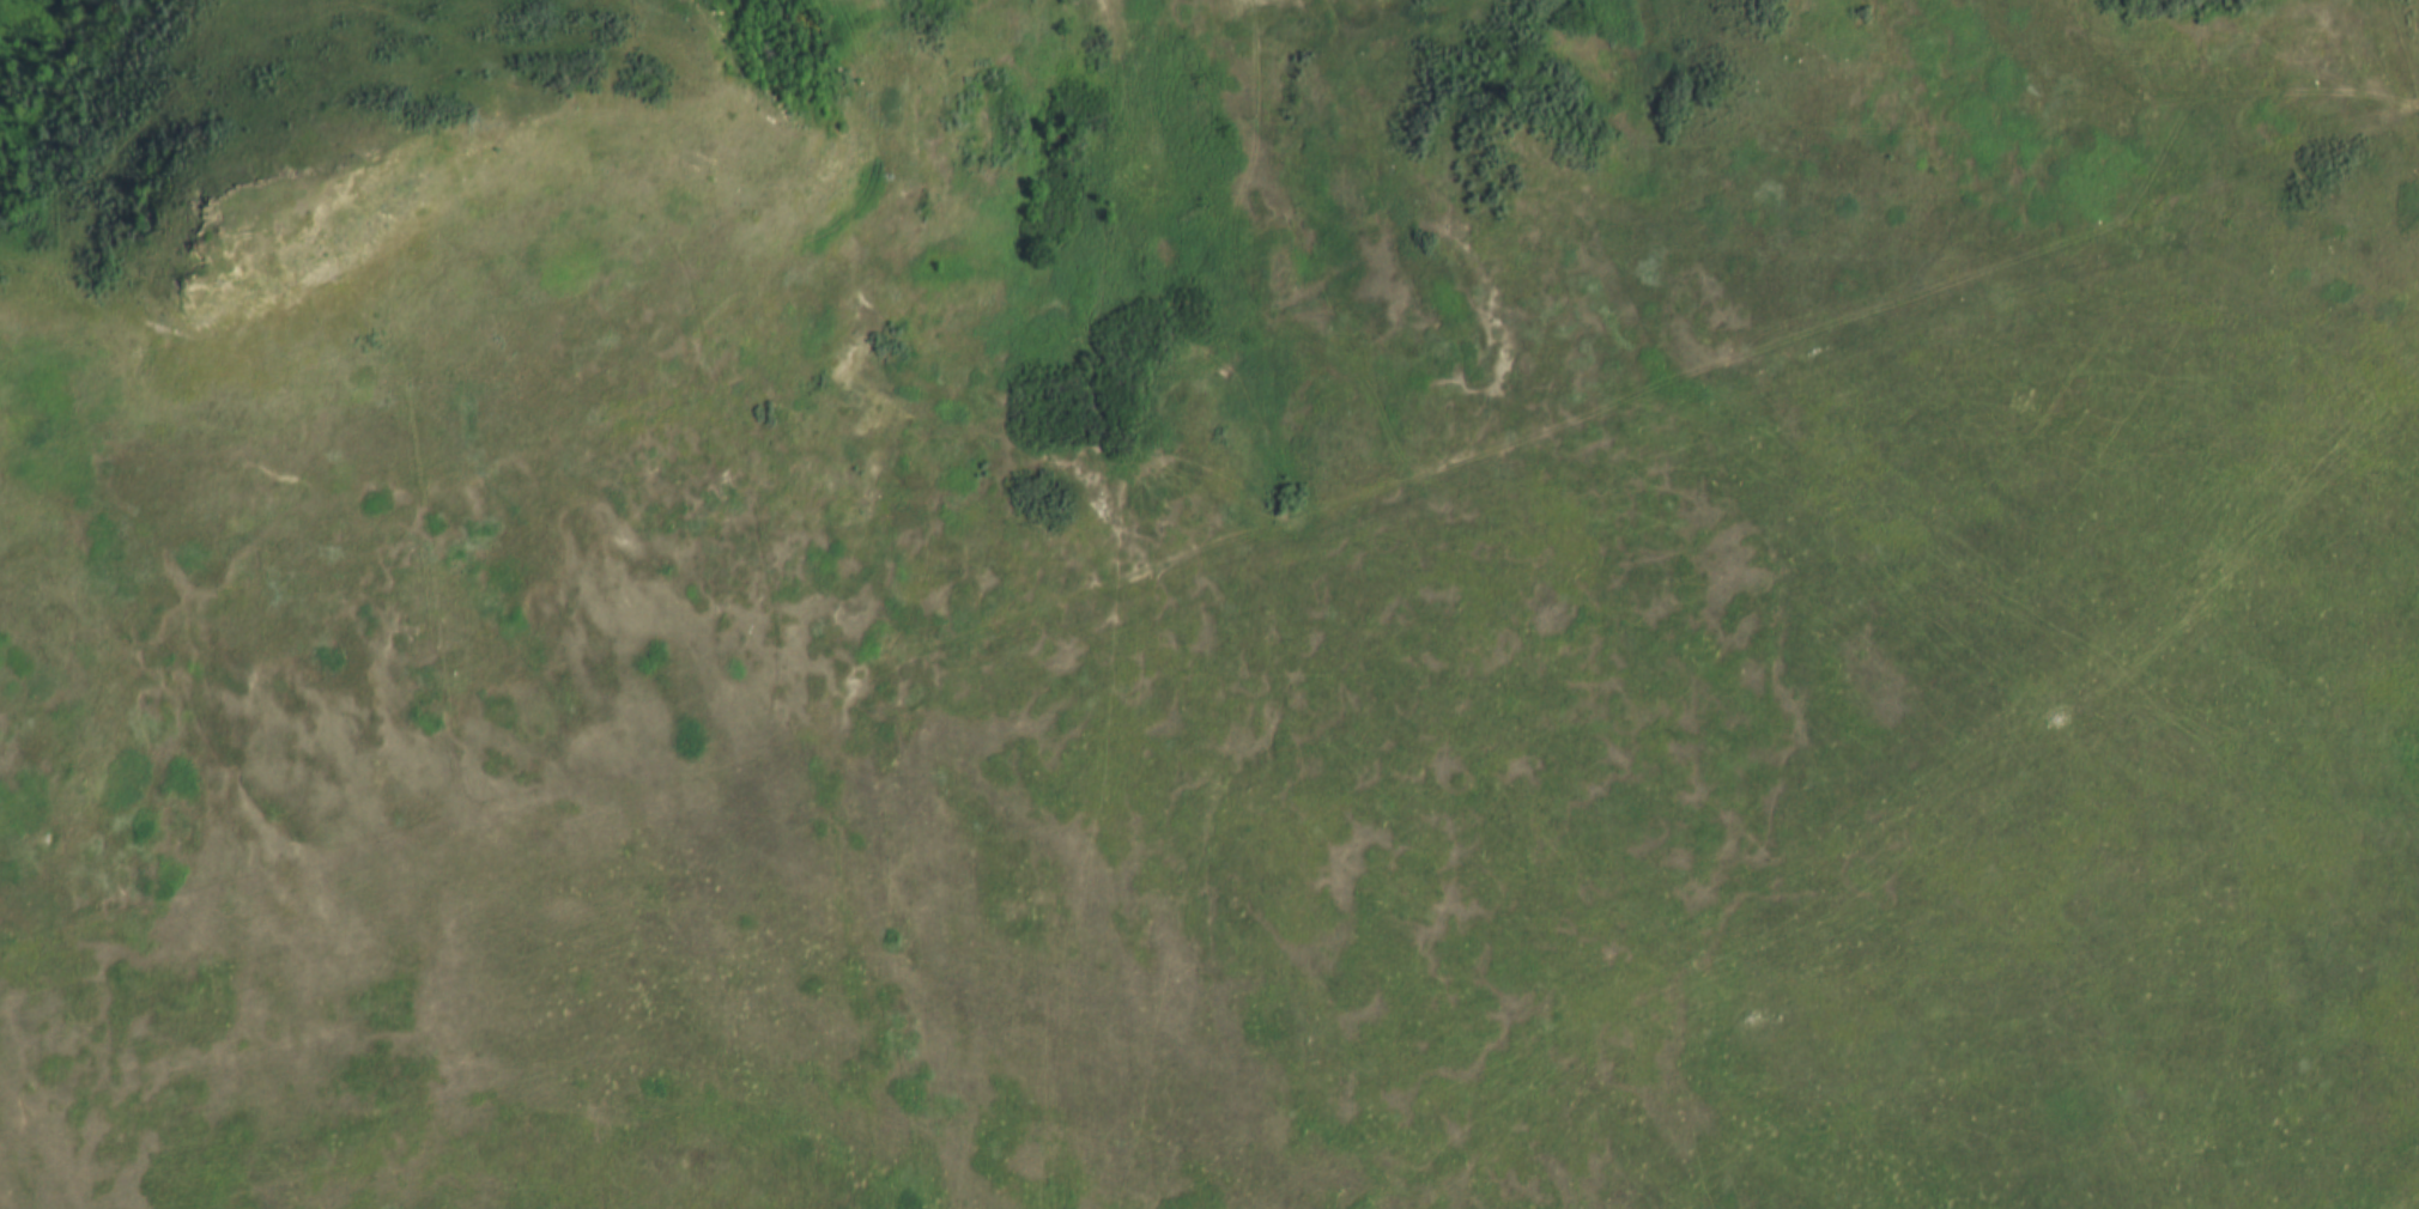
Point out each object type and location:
road: (1653, 389)

